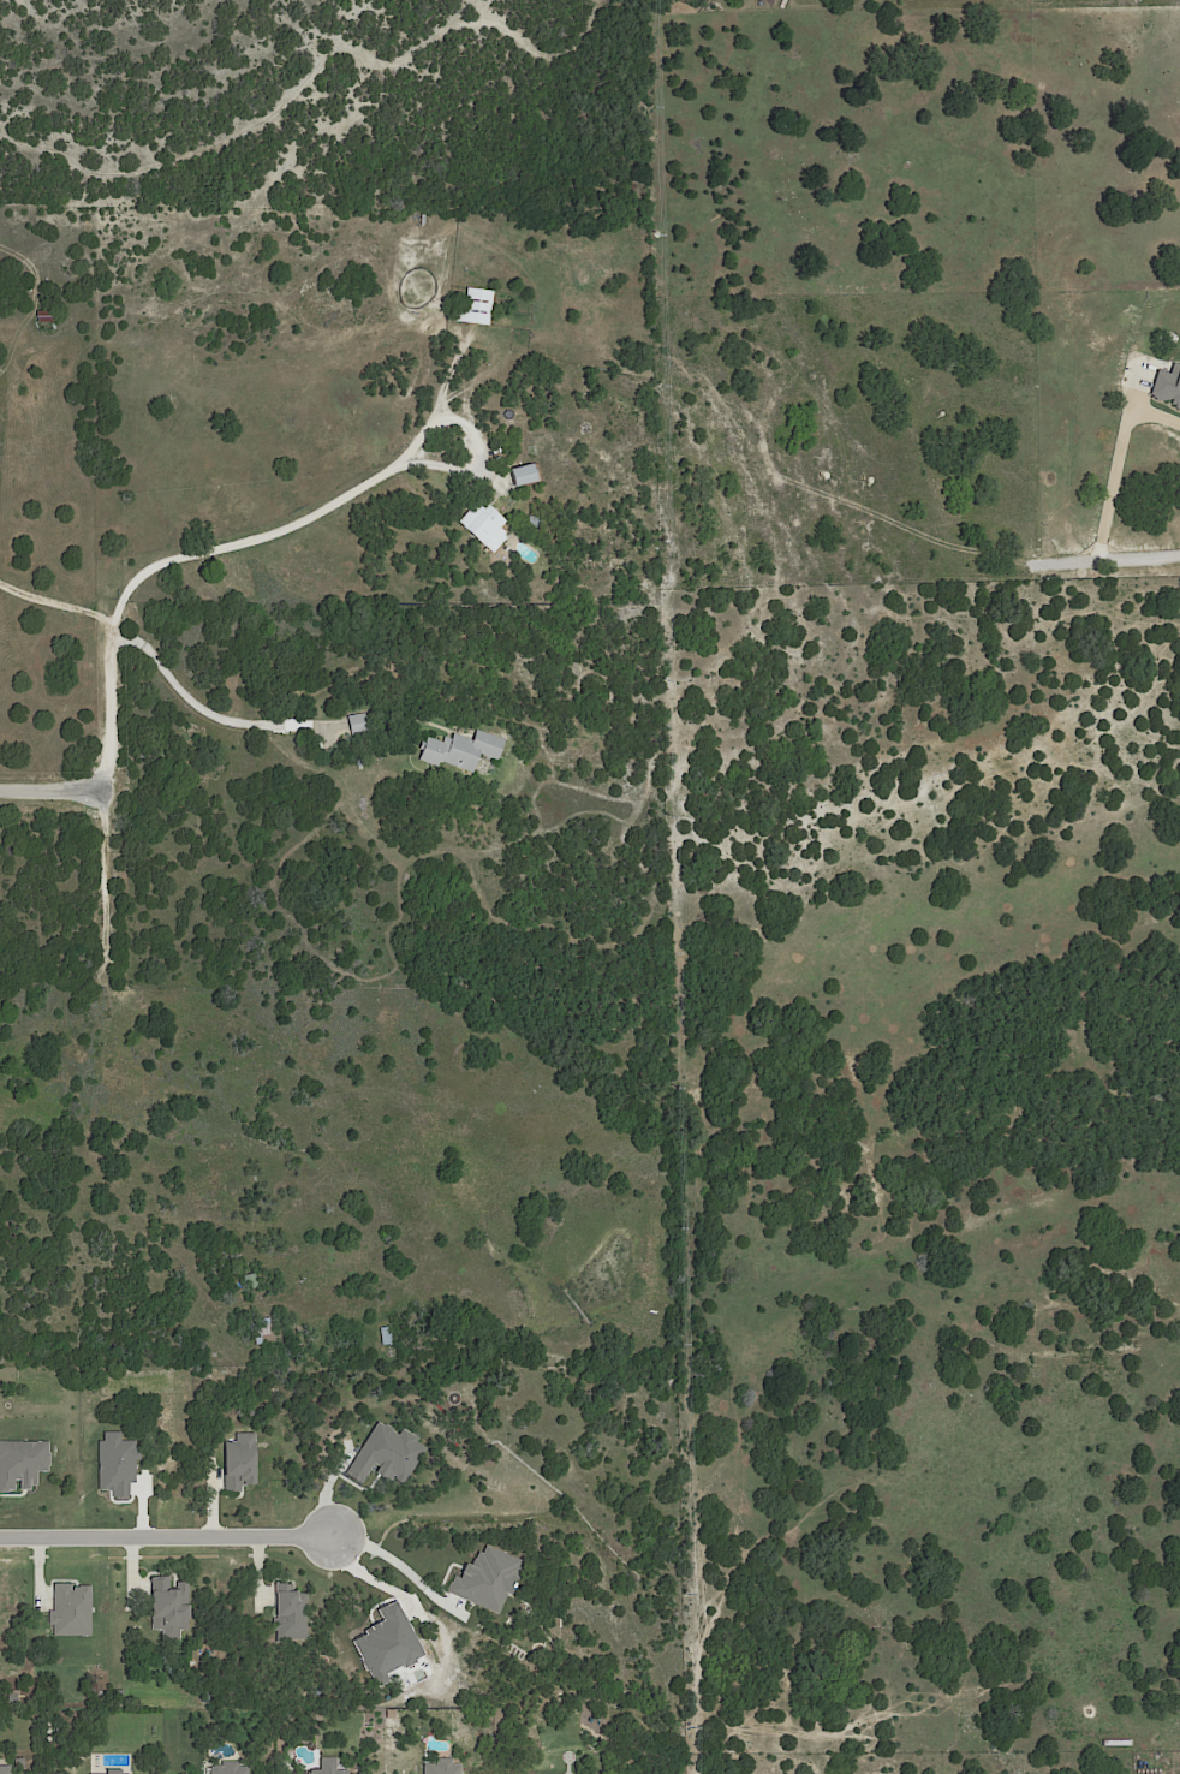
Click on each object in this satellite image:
building: (475, 306)
building: (41, 316)
road: (1121, 469)
building: (522, 474)
building: (535, 522)
building: (484, 524)
road: (1110, 562)
road: (144, 566)
road: (58, 600)
road: (209, 712)
building: (358, 721)
building: (463, 749)
building: (250, 1279)
building: (267, 1330)
building: (386, 1335)
road: (166, 1534)
road: (395, 1564)
building: (1118, 1743)

